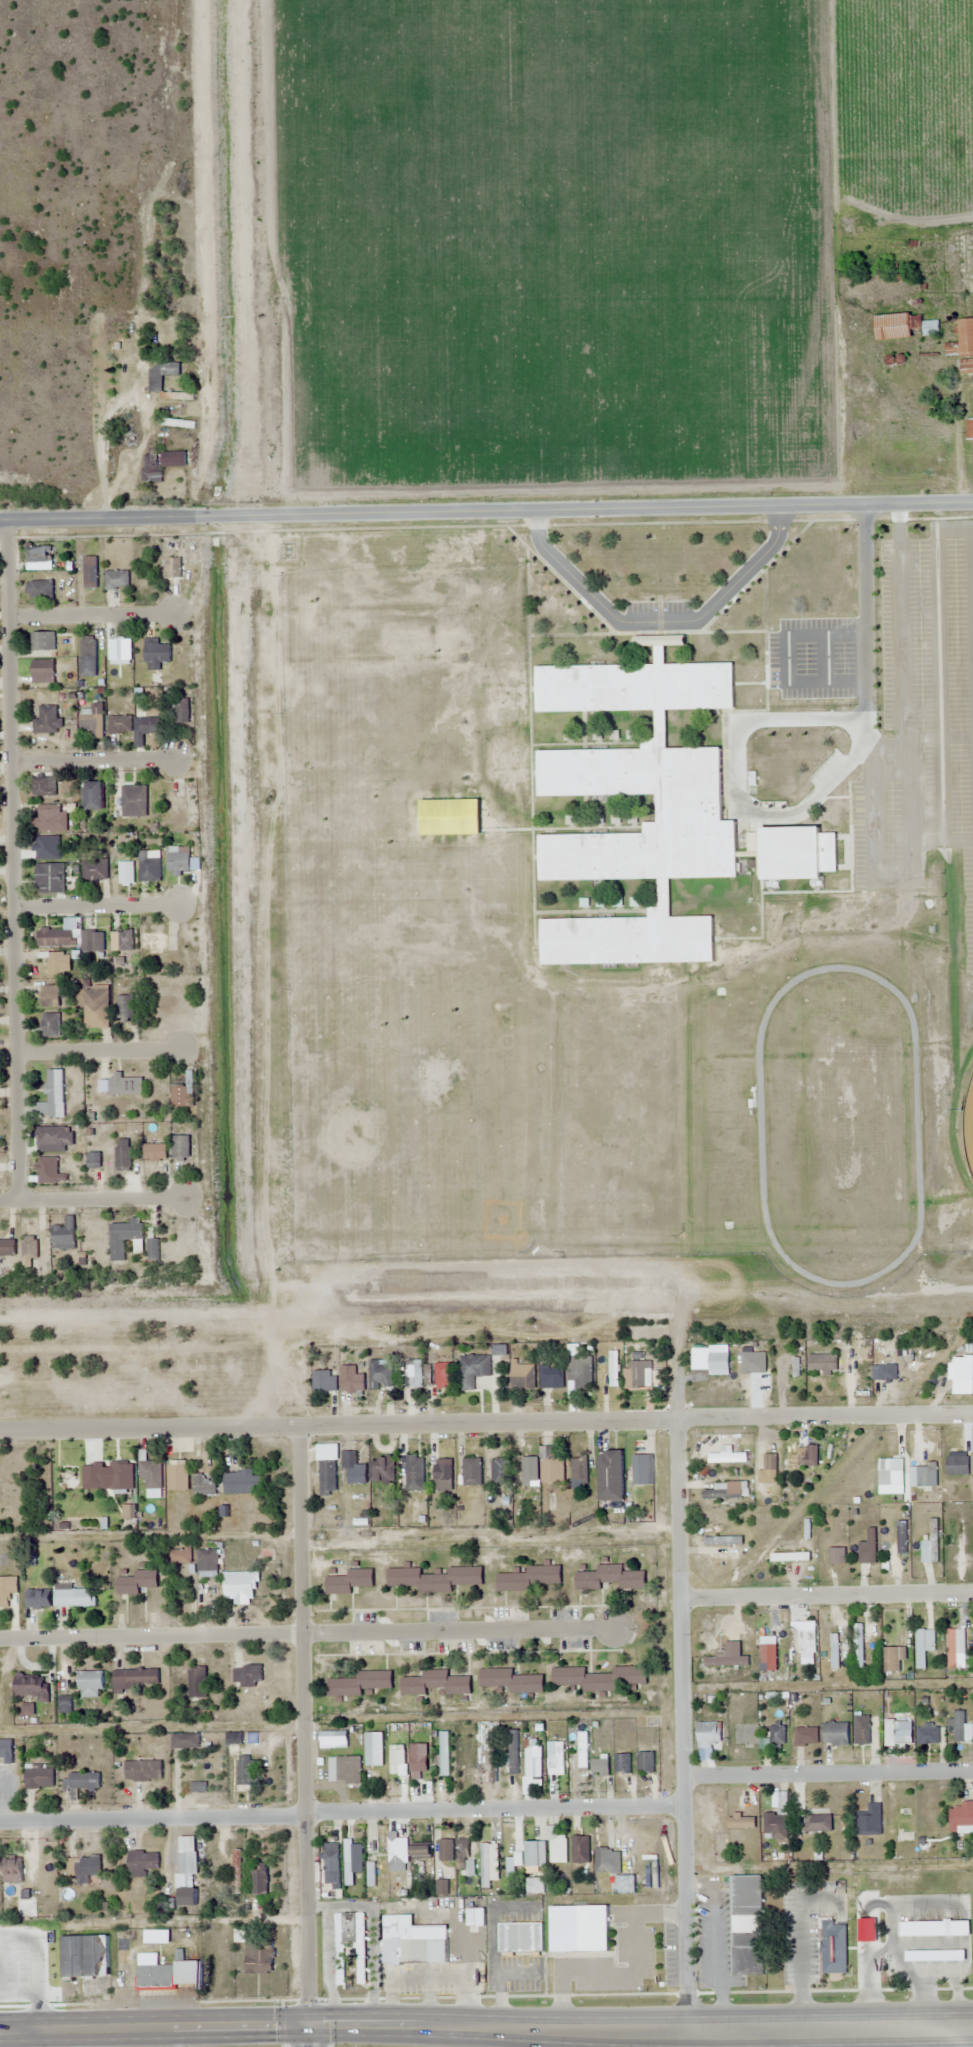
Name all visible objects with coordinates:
building: (166, 178)
building: (904, 326)
building: (963, 346)
building: (155, 384)
building: (178, 423)
building: (969, 430)
building: (808, 436)
building: (160, 463)
road: (486, 514)
building: (36, 554)
building: (172, 567)
building: (90, 576)
building: (117, 579)
building: (39, 590)
road: (90, 614)
road: (937, 614)
road: (658, 620)
road: (901, 623)
building: (43, 641)
building: (119, 649)
building: (88, 656)
road: (787, 657)
road: (825, 657)
building: (157, 664)
building: (42, 671)
building: (182, 710)
building: (46, 720)
building: (92, 720)
building: (120, 725)
building: (150, 726)
road: (916, 737)
road: (93, 759)
building: (42, 786)
road: (822, 787)
road: (941, 788)
building: (93, 795)
building: (134, 801)
road: (910, 807)
building: (692, 809)
building: (449, 817)
building: (47, 819)
road: (875, 824)
road: (941, 839)
building: (793, 852)
road: (12, 859)
building: (178, 863)
building: (149, 866)
building: (95, 870)
building: (126, 872)
building: (50, 878)
road: (96, 904)
building: (57, 935)
building: (122, 940)
building: (92, 941)
building: (58, 962)
building: (49, 996)
building: (96, 1006)
building: (125, 1008)
building: (50, 1024)
road: (99, 1050)
building: (125, 1084)
building: (53, 1096)
building: (180, 1097)
park: (968, 1124)
building: (54, 1139)
building: (180, 1147)
building: (155, 1152)
building: (123, 1154)
building: (93, 1160)
building: (49, 1171)
road: (91, 1198)
building: (64, 1235)
building: (125, 1238)
building: (29, 1247)
building: (7, 1248)
building: (152, 1249)
railway: (486, 1329)
building: (823, 1364)
building: (473, 1370)
building: (443, 1371)
building: (580, 1372)
building: (640, 1374)
building: (381, 1376)
building: (523, 1376)
building: (551, 1377)
building: (763, 1378)
building: (325, 1382)
building: (353, 1383)
road: (486, 1421)
building: (809, 1457)
building: (639, 1463)
building: (957, 1466)
building: (551, 1467)
building: (528, 1469)
building: (352, 1470)
building: (579, 1470)
building: (383, 1471)
building: (472, 1472)
building: (500, 1472)
building: (888, 1472)
building: (415, 1473)
building: (151, 1474)
building: (443, 1475)
building: (121, 1476)
building: (178, 1476)
building: (610, 1476)
building: (327, 1478)
building: (240, 1482)
building: (204, 1485)
building: (902, 1537)
building: (930, 1545)
building: (871, 1546)
building: (181, 1555)
building: (837, 1556)
building: (207, 1561)
building: (610, 1578)
building: (433, 1579)
building: (529, 1579)
building: (137, 1582)
building: (349, 1582)
building: (240, 1586)
building: (7, 1593)
road: (826, 1594)
building: (74, 1596)
building: (37, 1599)
road: (311, 1635)
building: (858, 1646)
building: (924, 1646)
building: (795, 1648)
building: (764, 1650)
building: (247, 1675)
building: (599, 1677)
building: (134, 1678)
building: (511, 1680)
building: (197, 1682)
building: (360, 1683)
building: (435, 1683)
building: (90, 1684)
building: (32, 1686)
road: (682, 1697)
road: (303, 1723)
building: (835, 1733)
building: (708, 1734)
building: (778, 1735)
building: (927, 1735)
building: (806, 1736)
building: (234, 1738)
building: (465, 1738)
building: (328, 1740)
building: (185, 1741)
building: (6, 1749)
building: (378, 1749)
building: (582, 1750)
building: (513, 1751)
building: (444, 1753)
building: (561, 1757)
building: (532, 1761)
building: (645, 1761)
building: (419, 1762)
building: (396, 1763)
building: (623, 1763)
building: (492, 1764)
building: (601, 1766)
building: (344, 1769)
building: (142, 1770)
building: (245, 1770)
road: (829, 1774)
building: (39, 1776)
building: (80, 1782)
building: (197, 1787)
road: (343, 1812)
building: (962, 1817)
building: (870, 1820)
building: (741, 1822)
building: (818, 1823)
building: (904, 1823)
building: (775, 1825)
building: (391, 1844)
building: (557, 1846)
building: (580, 1849)
building: (446, 1850)
building: (421, 1851)
building: (532, 1853)
building: (332, 1857)
building: (188, 1858)
building: (141, 1863)
building: (489, 1864)
building: (84, 1865)
building: (600, 1866)
building: (512, 1867)
building: (467, 1868)
building: (236, 1870)
building: (11, 1871)
building: (259, 1880)
building: (535, 1885)
building: (187, 1896)
building: (746, 1924)
building: (578, 1928)
building: (933, 1928)
road: (17, 1934)
building: (520, 1937)
building: (403, 1942)
building: (349, 1944)
building: (832, 1946)
building: (8, 1956)
building: (85, 1956)
building: (932, 1956)
building: (259, 1957)
building: (154, 1977)
building: (1, 1987)
traffic signals: (309, 2023)
road: (154, 2026)
road: (640, 2028)

